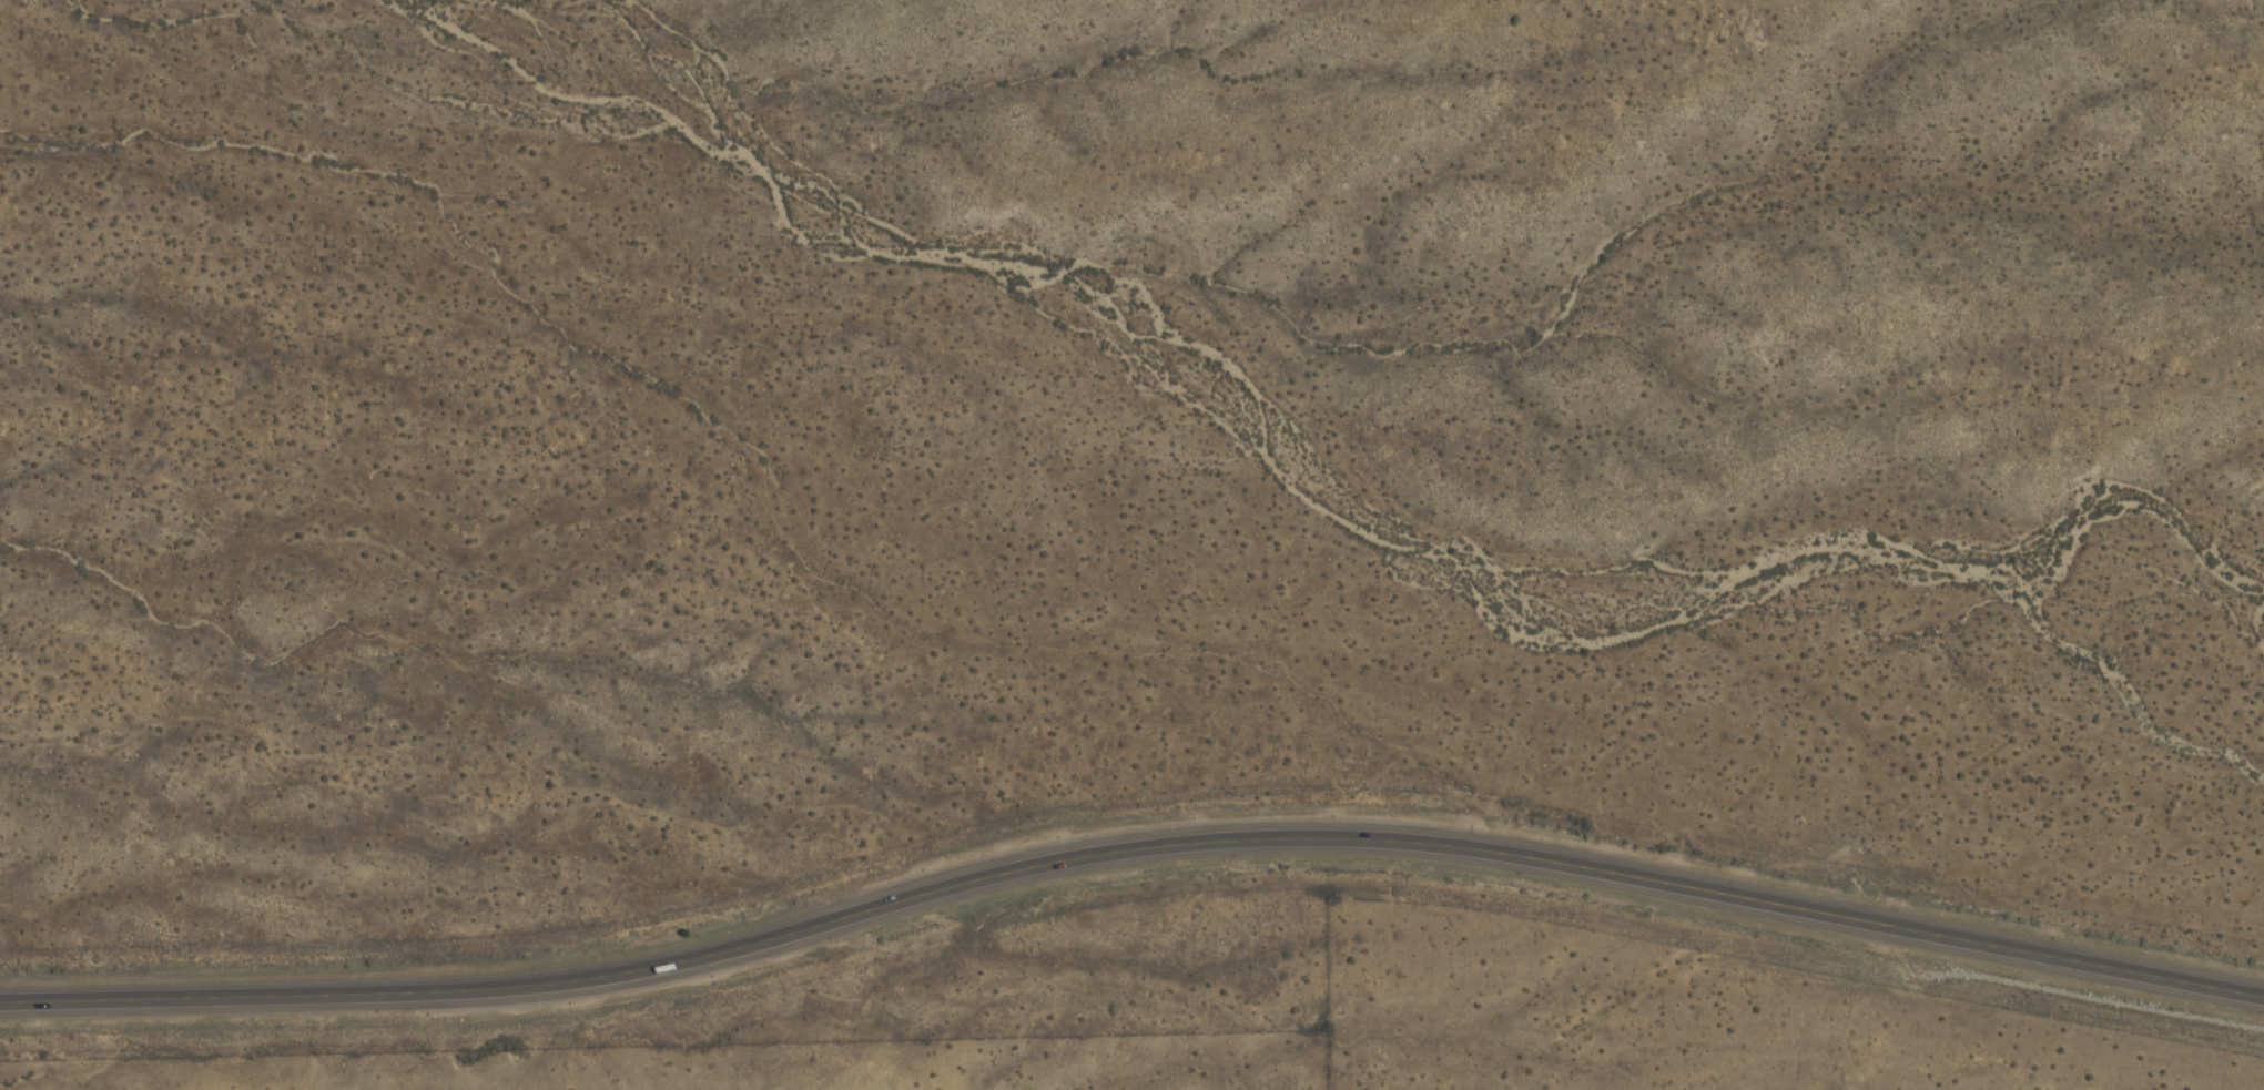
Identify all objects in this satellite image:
road: (1130, 849)

